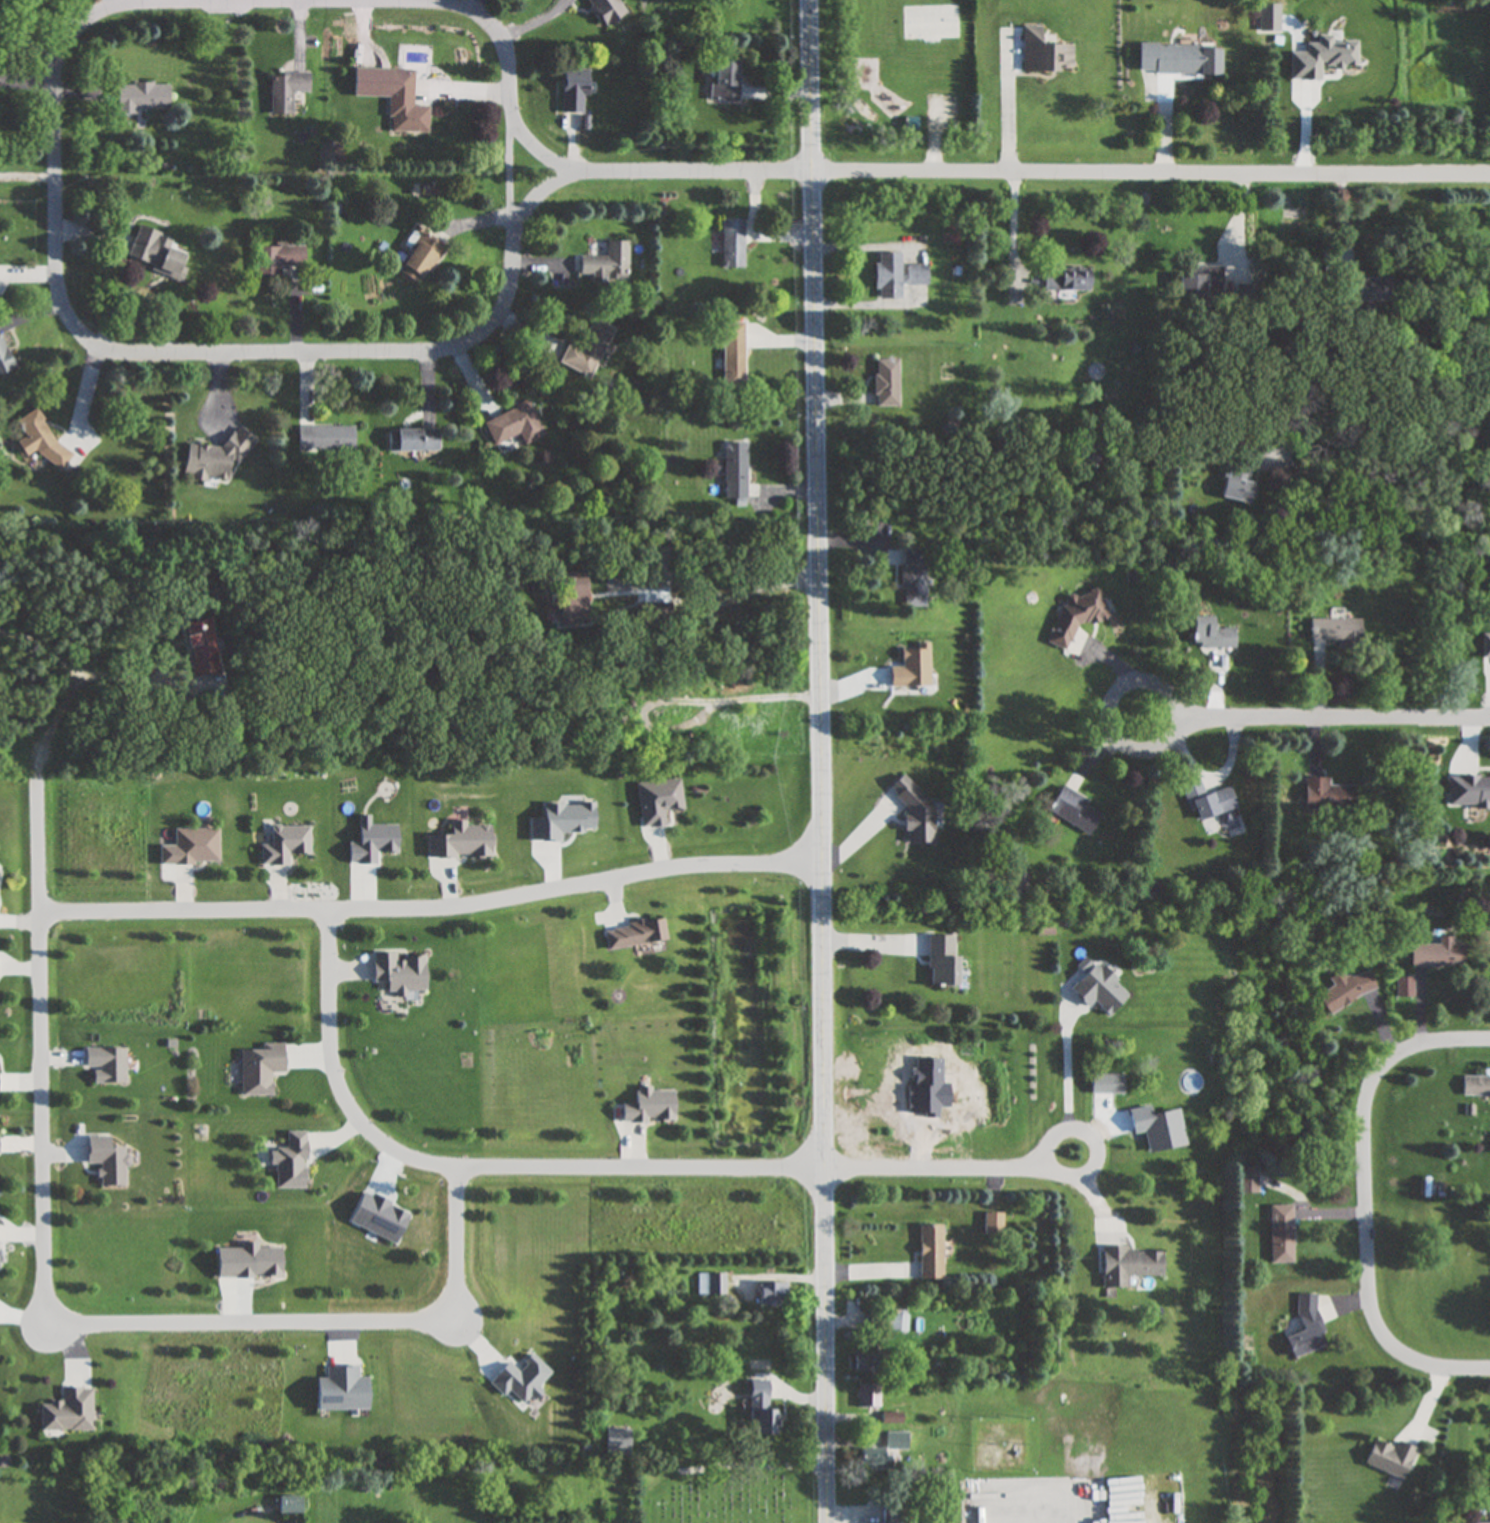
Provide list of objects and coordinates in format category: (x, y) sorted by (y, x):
building: (607, 10)
building: (1044, 53)
building: (1178, 58)
building: (724, 80)
building: (286, 90)
building: (574, 90)
building: (142, 97)
building: (404, 103)
road: (1009, 106)
road: (1150, 169)
road: (27, 173)
road: (1013, 230)
building: (731, 240)
building: (156, 253)
building: (420, 258)
building: (272, 260)
building: (606, 265)
building: (916, 275)
building: (887, 276)
building: (1065, 279)
building: (1200, 282)
building: (1364, 289)
road: (61, 315)
building: (588, 349)
building: (733, 353)
building: (4, 359)
building: (885, 383)
building: (514, 424)
building: (40, 438)
building: (325, 439)
building: (412, 440)
building: (215, 459)
building: (735, 471)
building: (1239, 476)
road: (1388, 519)
building: (912, 578)
building: (570, 596)
road: (712, 614)
building: (1076, 617)
building: (1335, 629)
building: (1210, 634)
building: (199, 647)
building: (912, 668)
road: (82, 674)
building: (729, 722)
road: (1315, 726)
road: (817, 761)
building: (1469, 790)
building: (1326, 795)
building: (1208, 801)
building: (1073, 810)
building: (915, 814)
building: (462, 842)
building: (196, 846)
road: (432, 902)
building: (633, 934)
building: (1438, 954)
building: (941, 961)
building: (399, 973)
building: (1099, 990)
building: (1345, 991)
road: (43, 1038)
building: (106, 1066)
road: (1067, 1069)
building: (261, 1070)
building: (1106, 1084)
building: (1475, 1087)
building: (649, 1107)
building: (106, 1161)
building: (291, 1163)
road: (471, 1167)
road: (936, 1169)
road: (1086, 1176)
road: (1363, 1210)
building: (993, 1224)
building: (1280, 1235)
building: (930, 1253)
building: (1128, 1266)
building: (711, 1284)
building: (771, 1294)
road: (326, 1320)
building: (880, 1324)
building: (899, 1324)
building: (1306, 1326)
building: (862, 1363)
building: (340, 1391)
building: (868, 1396)
building: (761, 1408)
building: (1051, 1408)
building: (66, 1412)
building: (891, 1418)
building: (883, 1451)
building: (1390, 1459)
building: (1119, 1464)
park: (729, 1493)
building: (290, 1505)
building: (889, 1514)
building: (1486, 1522)

